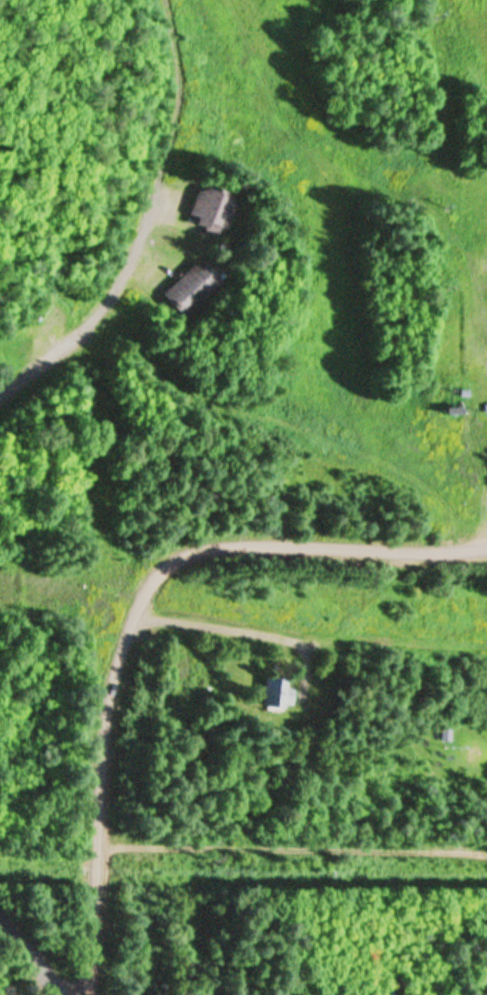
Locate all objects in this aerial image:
building: (206, 210)
ski resort: (284, 228)
building: (188, 287)
road: (99, 311)
building: (269, 695)
road: (31, 957)

